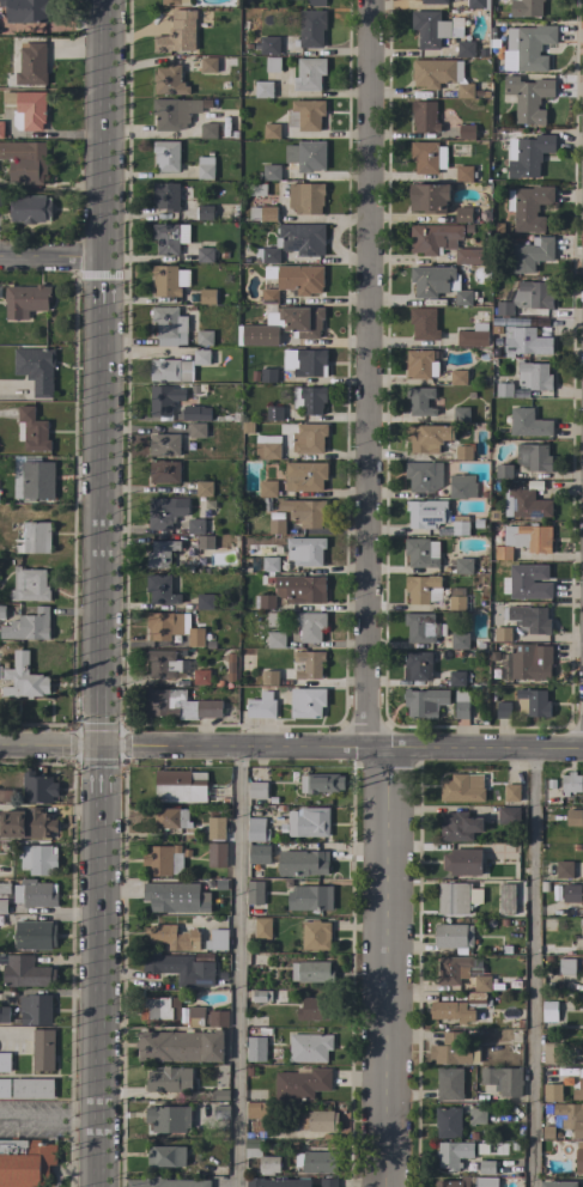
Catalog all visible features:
building: (174, 1)
building: (435, 1)
building: (316, 2)
building: (478, 4)
building: (526, 8)
building: (26, 10)
building: (432, 28)
building: (310, 29)
building: (177, 34)
building: (267, 45)
building: (530, 45)
building: (464, 48)
building: (29, 65)
building: (207, 65)
building: (272, 65)
building: (432, 72)
building: (309, 74)
building: (169, 80)
building: (263, 90)
building: (464, 90)
building: (528, 98)
building: (26, 109)
building: (174, 112)
building: (305, 114)
building: (424, 116)
building: (1, 129)
building: (208, 130)
building: (271, 130)
building: (466, 132)
building: (528, 154)
building: (165, 156)
building: (306, 156)
building: (427, 157)
building: (24, 162)
building: (205, 168)
building: (271, 172)
building: (463, 174)
building: (256, 189)
building: (170, 195)
building: (305, 197)
building: (429, 197)
building: (528, 206)
building: (28, 208)
building: (205, 213)
building: (262, 213)
building: (463, 214)
building: (169, 237)
building: (302, 238)
building: (443, 243)
building: (205, 254)
building: (532, 254)
building: (266, 255)
road: (49, 256)
building: (296, 279)
building: (165, 280)
building: (437, 282)
building: (207, 297)
building: (527, 298)
building: (25, 300)
building: (272, 318)
building: (303, 321)
building: (518, 322)
building: (424, 323)
building: (169, 325)
building: (473, 336)
building: (205, 337)
building: (524, 341)
building: (309, 363)
building: (420, 365)
building: (177, 367)
building: (36, 369)
road: (365, 373)
building: (268, 375)
building: (533, 375)
building: (457, 377)
building: (504, 390)
building: (164, 400)
building: (309, 400)
building: (420, 401)
building: (274, 413)
building: (196, 414)
building: (460, 414)
building: (528, 424)
building: (31, 431)
building: (198, 431)
building: (427, 437)
building: (309, 438)
building: (164, 445)
building: (267, 446)
building: (463, 452)
building: (534, 457)
building: (503, 471)
building: (164, 473)
building: (304, 476)
building: (423, 476)
building: (36, 479)
building: (461, 486)
building: (204, 488)
building: (267, 488)
building: (524, 503)
building: (304, 511)
building: (165, 512)
building: (426, 513)
building: (460, 525)
building: (195, 526)
building: (275, 526)
building: (31, 536)
building: (528, 537)
building: (205, 542)
building: (305, 550)
building: (160, 553)
building: (421, 553)
building: (500, 553)
building: (269, 564)
building: (463, 566)
building: (29, 585)
building: (524, 586)
building: (300, 589)
building: (423, 589)
building: (160, 590)
road: (97, 592)
building: (205, 602)
building: (263, 602)
building: (456, 603)
building: (1, 611)
building: (530, 619)
building: (166, 625)
building: (309, 625)
building: (28, 626)
building: (423, 628)
building: (502, 634)
building: (195, 637)
building: (275, 640)
building: (458, 640)
building: (530, 662)
building: (163, 664)
building: (309, 664)
building: (417, 664)
building: (201, 677)
building: (267, 677)
building: (23, 678)
building: (456, 678)
building: (306, 702)
building: (425, 702)
building: (533, 702)
building: (178, 705)
building: (461, 705)
building: (261, 706)
building: (503, 710)
road: (48, 747)
traffic signals: (97, 747)
road: (340, 747)
building: (321, 783)
building: (570, 783)
building: (180, 786)
building: (38, 789)
building: (462, 789)
building: (257, 790)
building: (515, 793)
building: (509, 816)
building: (572, 817)
building: (171, 818)
building: (308, 822)
building: (26, 823)
building: (458, 827)
building: (215, 828)
building: (256, 833)
building: (215, 854)
building: (259, 854)
building: (38, 859)
building: (163, 860)
building: (462, 862)
building: (303, 863)
building: (564, 870)
building: (5, 888)
building: (254, 891)
building: (171, 893)
building: (569, 893)
building: (37, 894)
building: (309, 897)
building: (457, 897)
building: (506, 899)
building: (5, 907)
building: (581, 923)
building: (262, 927)
building: (315, 935)
building: (35, 936)
building: (172, 936)
building: (454, 936)
building: (217, 939)
building: (566, 966)
road: (236, 967)
road: (388, 968)
road: (529, 968)
building: (181, 969)
building: (453, 969)
building: (25, 972)
building: (310, 972)
building: (482, 982)
building: (265, 997)
building: (159, 1008)
building: (458, 1008)
building: (314, 1009)
building: (37, 1010)
building: (549, 1011)
building: (4, 1013)
building: (195, 1016)
building: (215, 1018)
road: (10, 1031)
building: (582, 1045)
building: (180, 1046)
building: (309, 1047)
building: (256, 1048)
building: (43, 1049)
building: (552, 1053)
building: (450, 1054)
building: (5, 1061)
building: (169, 1079)
building: (503, 1079)
building: (300, 1083)
building: (449, 1083)
building: (5, 1088)
building: (32, 1089)
building: (578, 1090)
building: (551, 1092)
building: (259, 1109)
building: (220, 1110)
building: (476, 1113)
building: (570, 1116)
road: (48, 1118)
building: (169, 1118)
building: (318, 1120)
building: (448, 1122)
building: (260, 1127)
building: (453, 1153)
building: (166, 1156)
building: (261, 1157)
building: (579, 1157)
building: (317, 1161)
building: (25, 1162)
building: (486, 1167)
building: (166, 1182)
building: (278, 1182)
building: (328, 1182)
building: (486, 1182)
building: (451, 1183)
building: (559, 1183)

